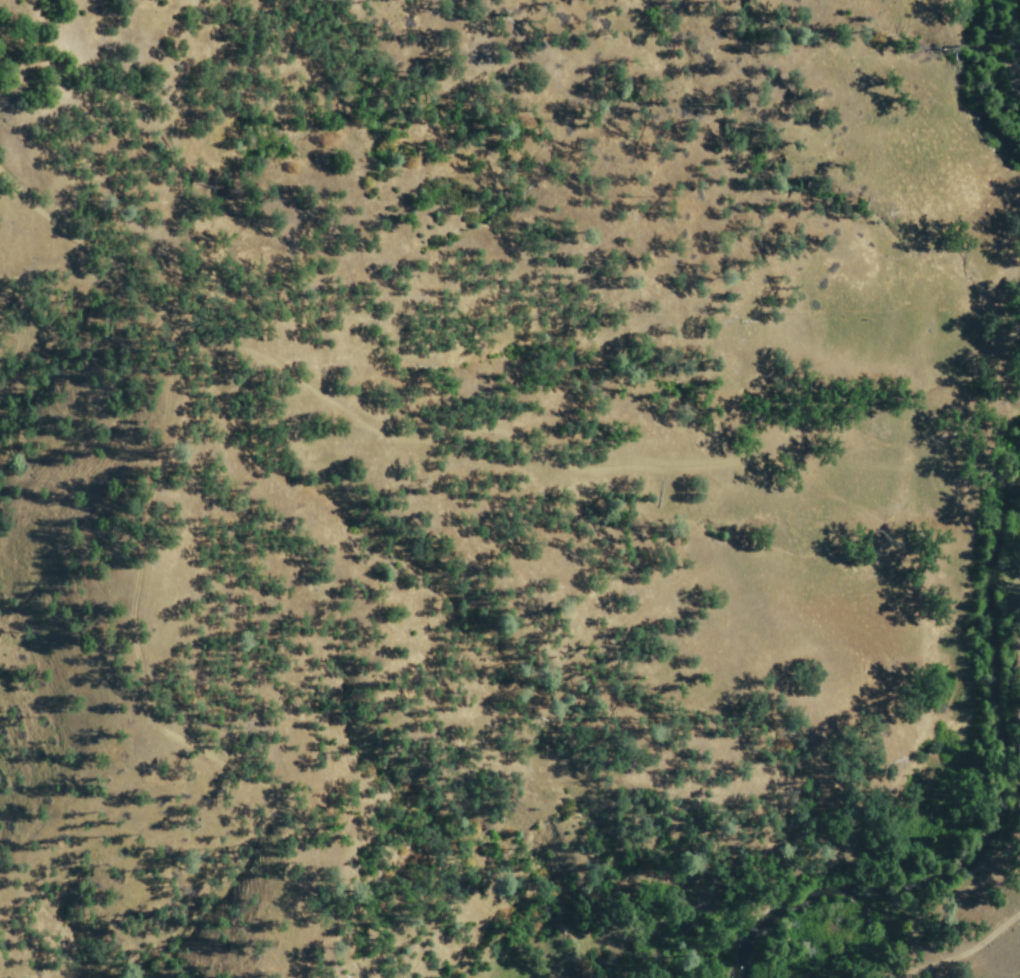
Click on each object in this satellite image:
road: (965, 951)

